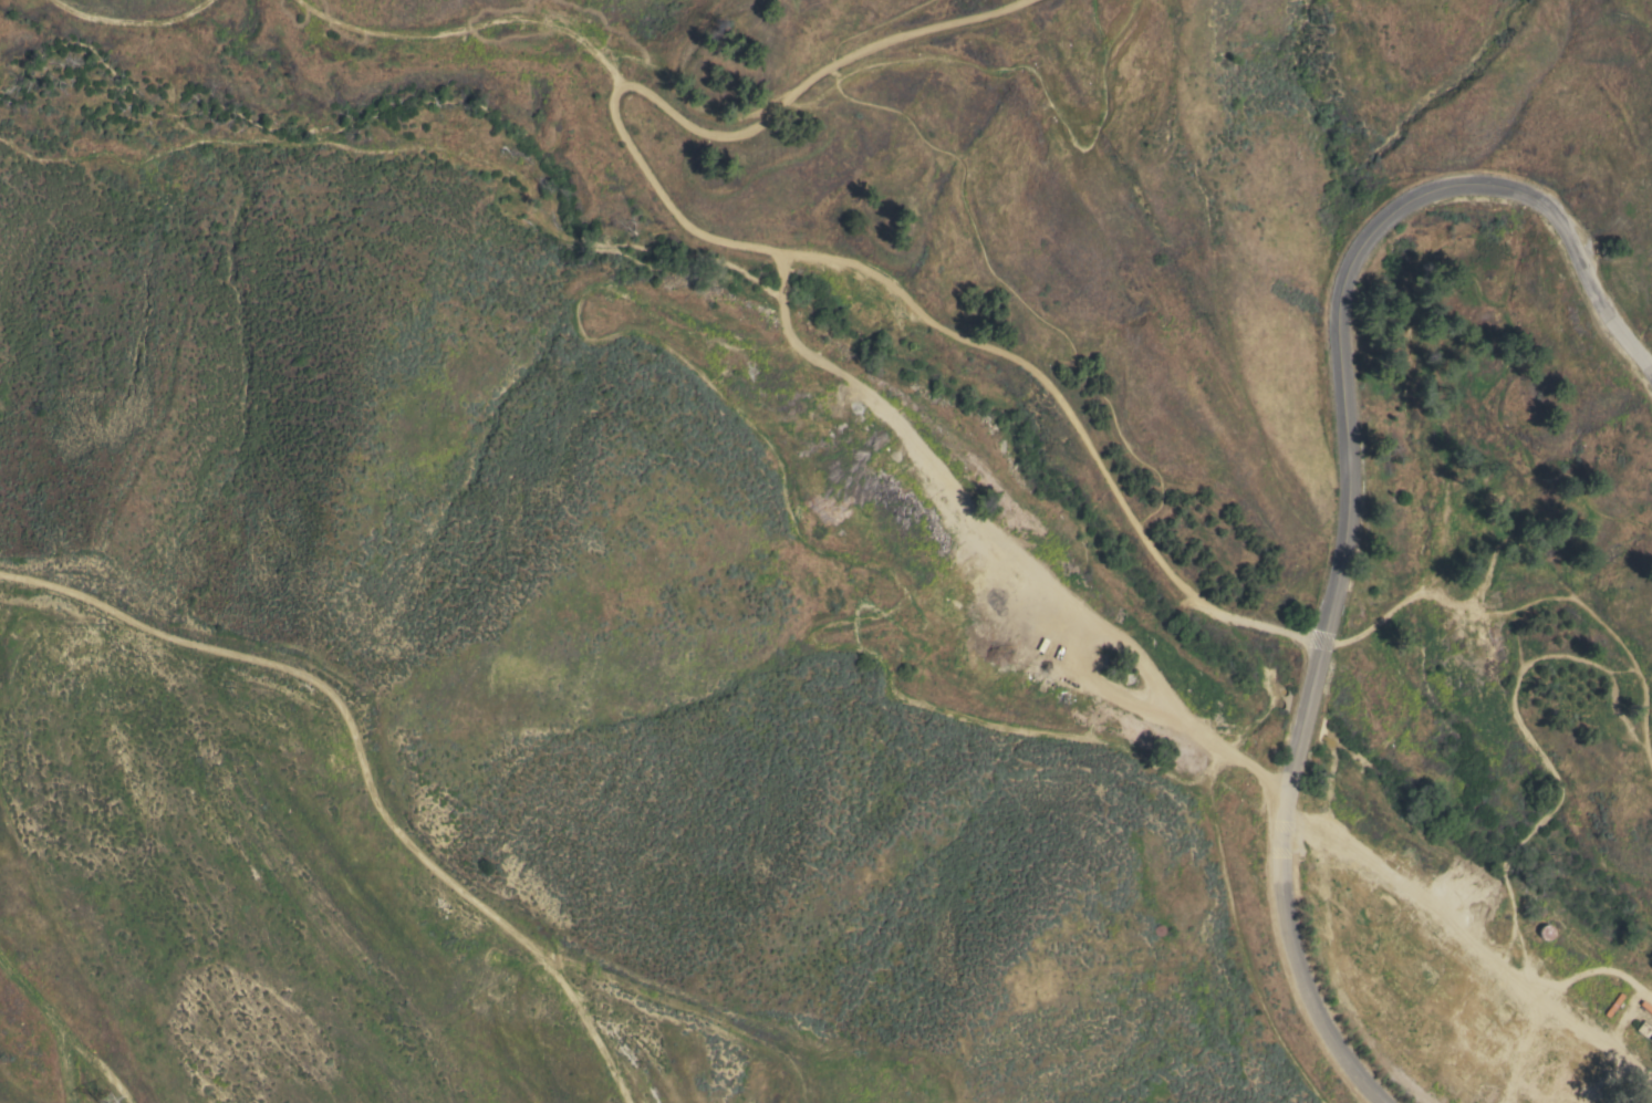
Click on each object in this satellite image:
road: (131, 20)
road: (872, 28)
road: (10, 72)
road: (809, 80)
road: (409, 128)
road: (1568, 233)
road: (821, 249)
road: (1002, 289)
park: (1224, 488)
road: (790, 523)
road: (1039, 569)
road: (1534, 595)
road: (1322, 644)
road: (1602, 668)
road: (1267, 680)
road: (1276, 686)
road: (1385, 716)
road: (1509, 850)
storage tank: (1546, 932)
road: (1244, 949)

